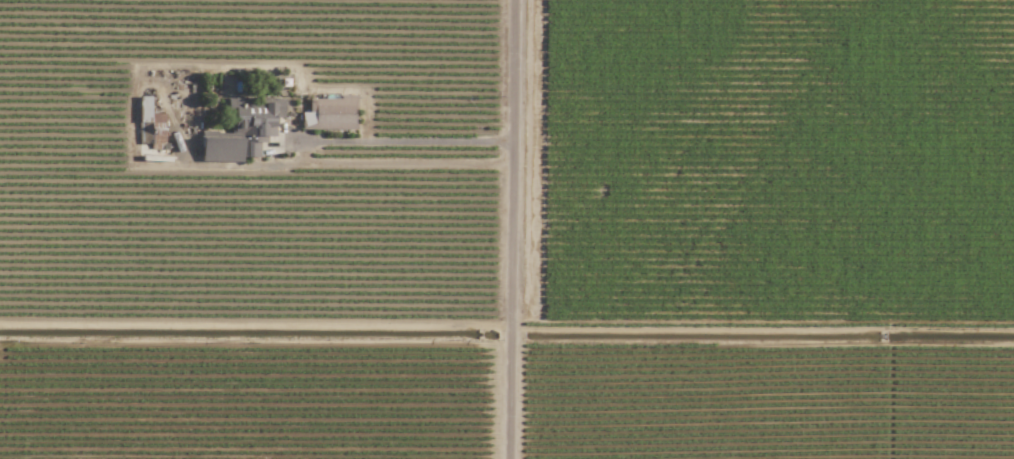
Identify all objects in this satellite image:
building: (329, 113)
building: (149, 124)
building: (243, 131)
road: (403, 142)
road: (512, 229)

